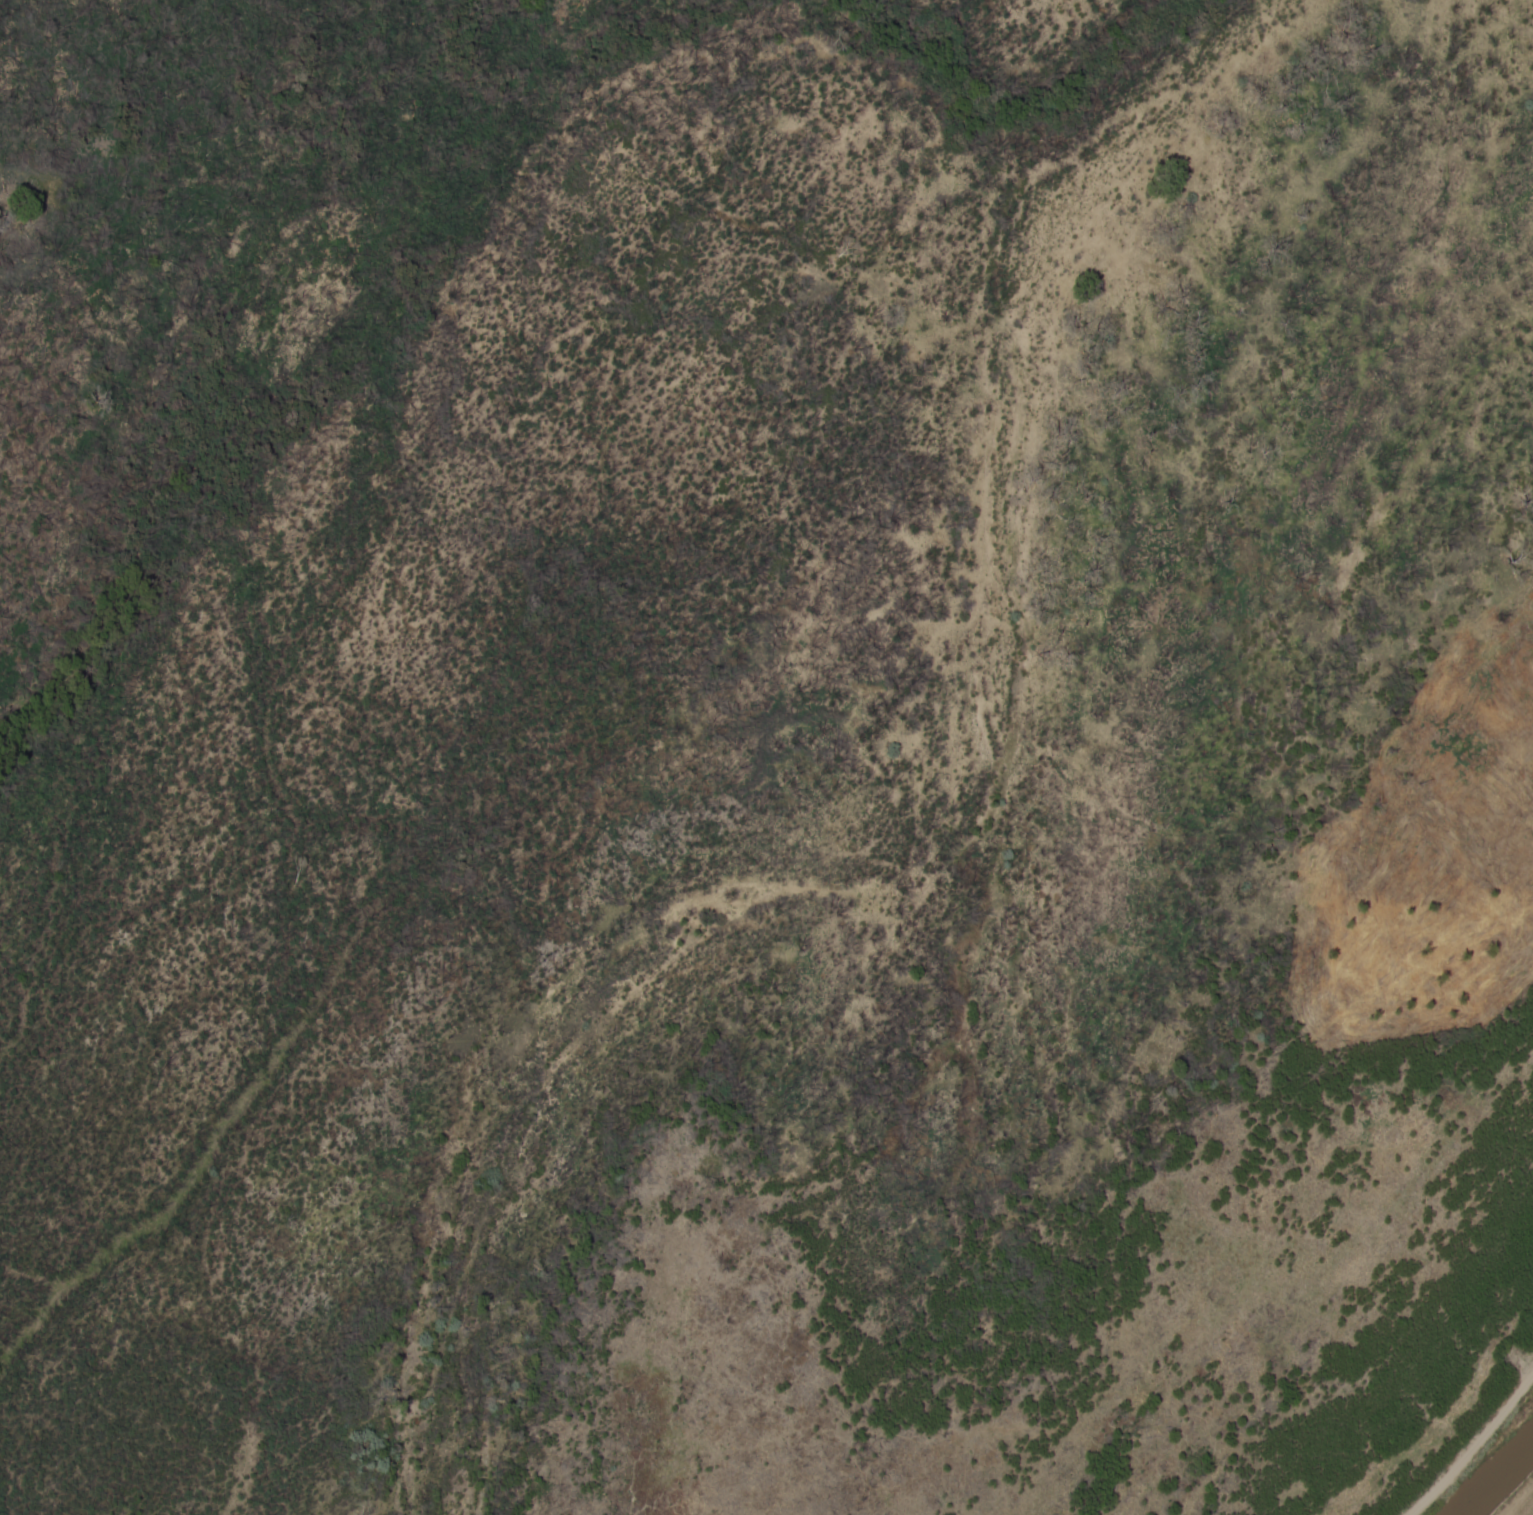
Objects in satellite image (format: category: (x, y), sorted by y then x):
road: (1471, 1444)

